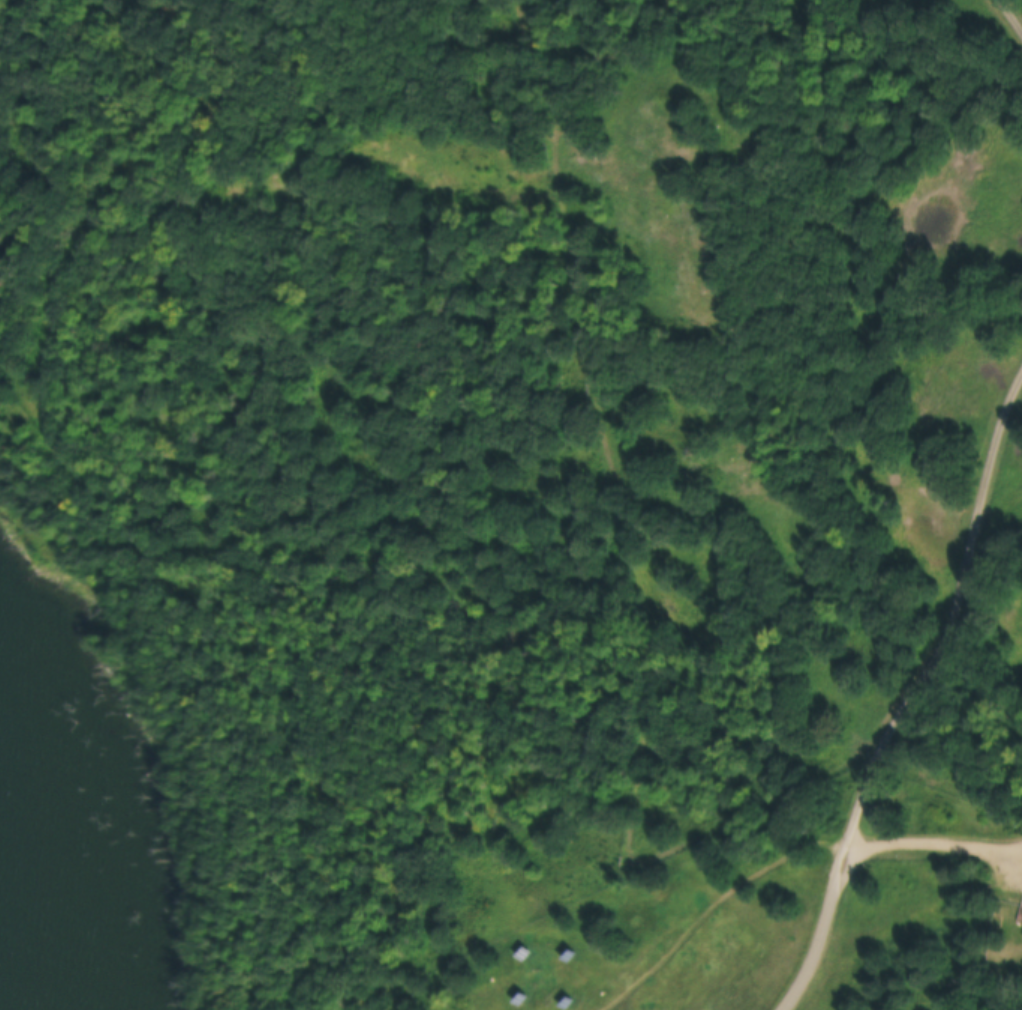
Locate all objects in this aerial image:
road: (1012, 14)
road: (952, 622)
road: (931, 835)
road: (823, 921)
road: (785, 1003)

